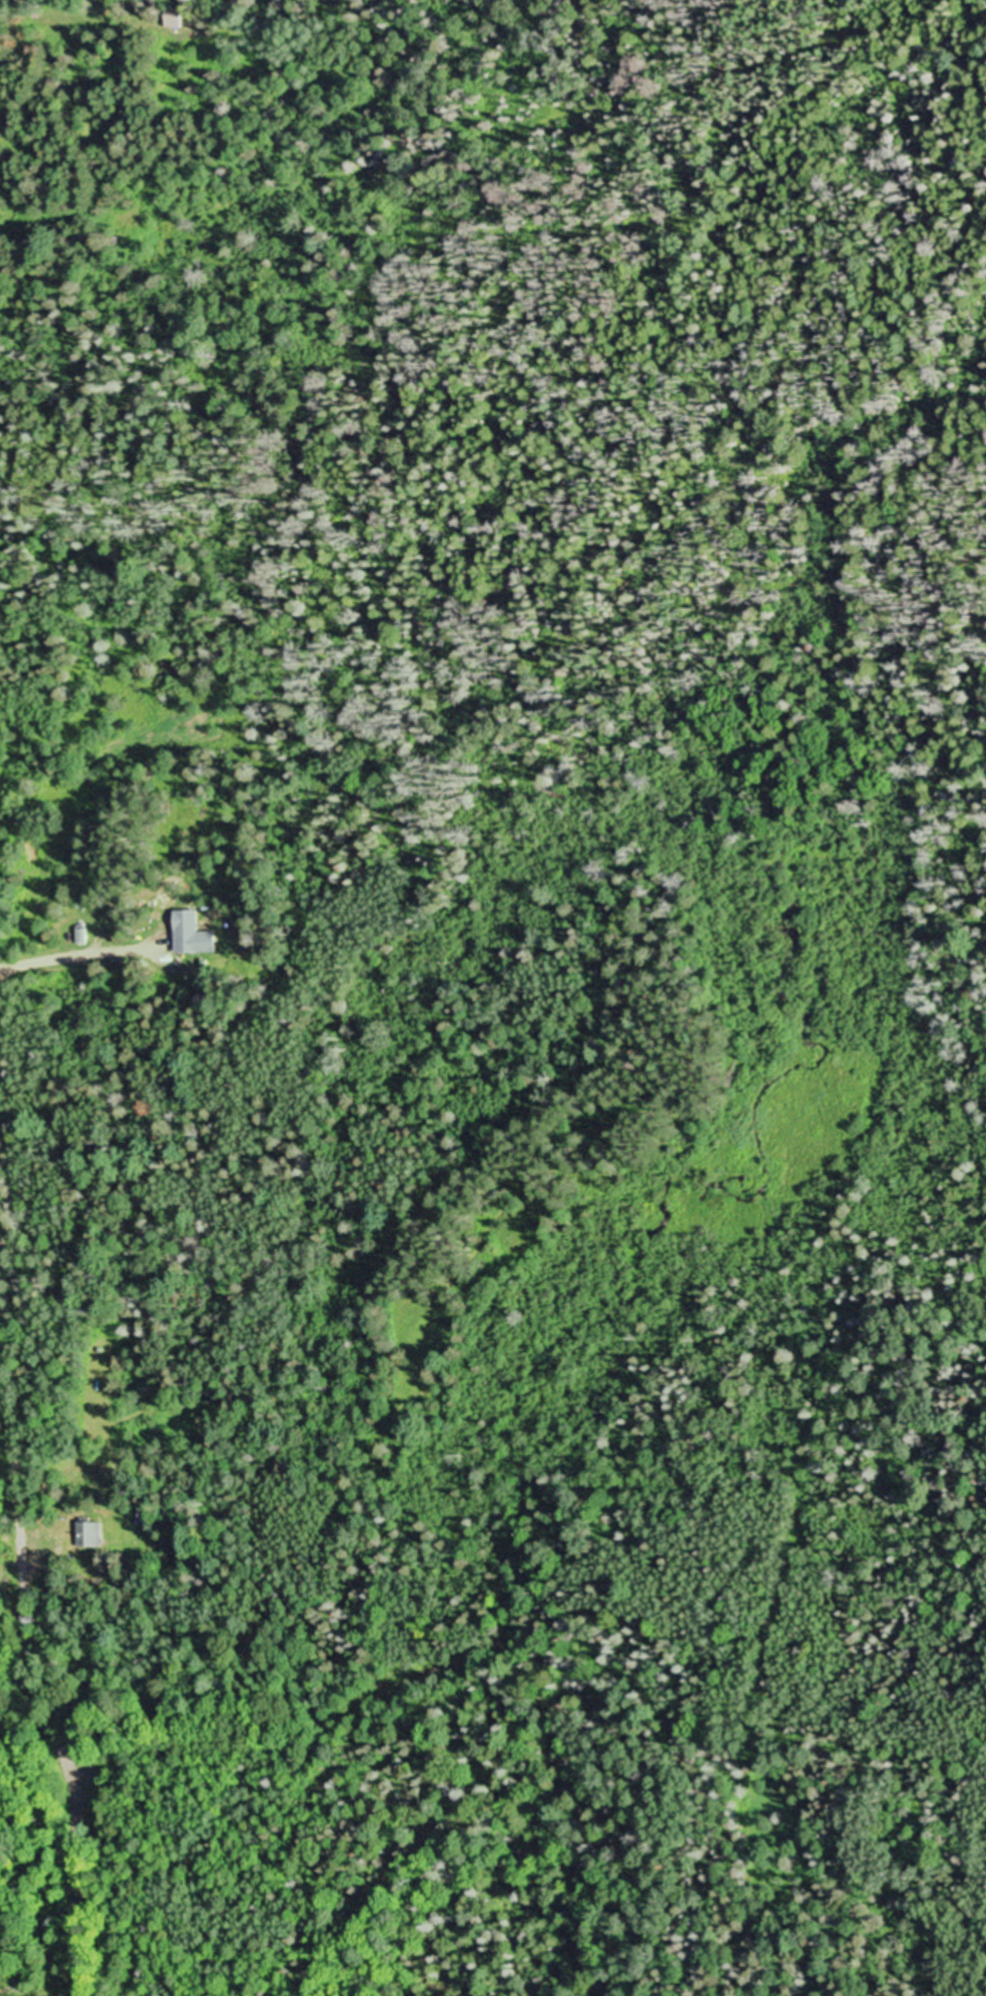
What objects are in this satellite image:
road: (74, 1883)

